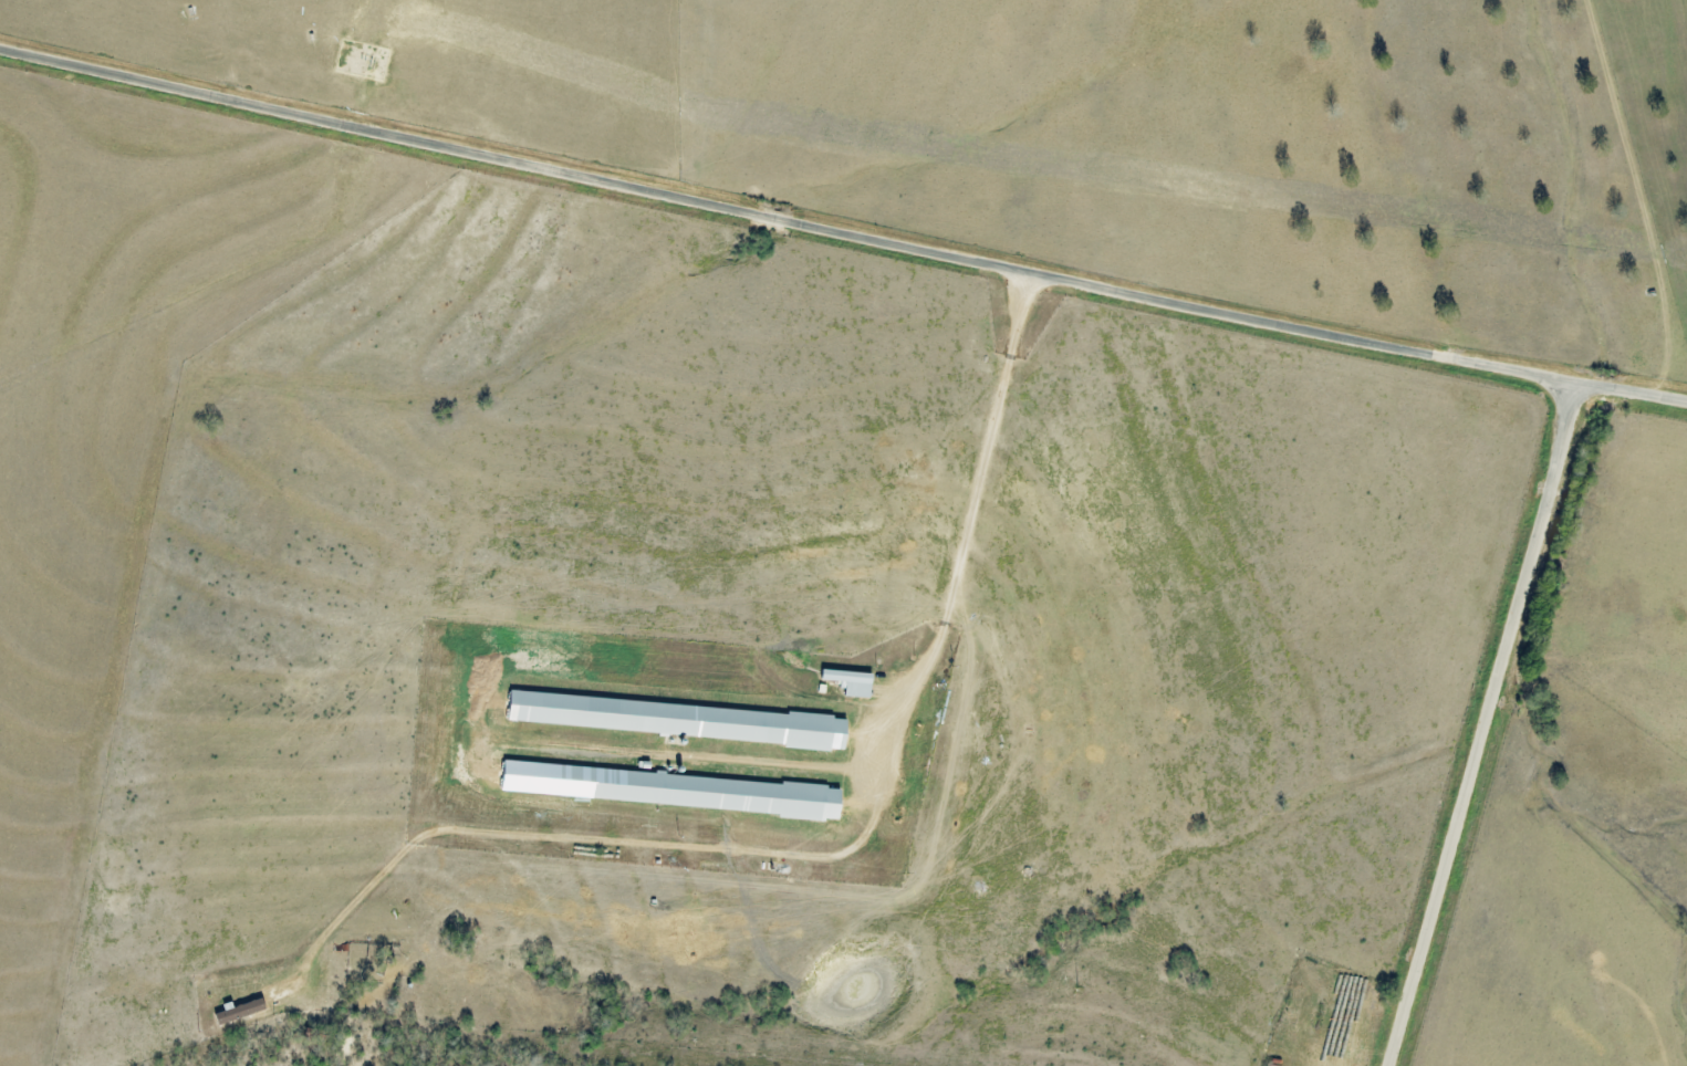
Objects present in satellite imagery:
road: (842, 228)
building: (845, 682)
building: (668, 719)
road: (1488, 722)
building: (663, 788)

